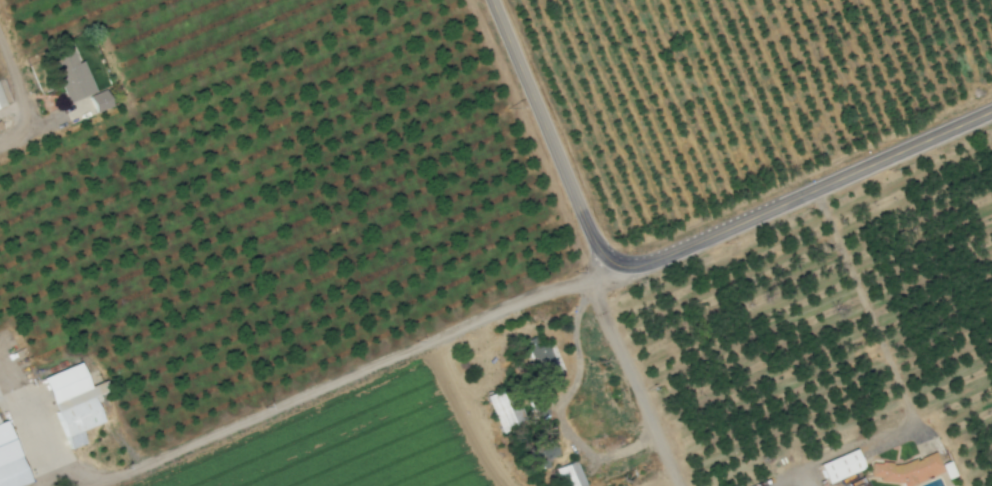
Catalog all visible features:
building: (68, 76)
building: (96, 101)
building: (0, 104)
road: (25, 113)
road: (553, 137)
road: (803, 194)
road: (867, 307)
building: (542, 363)
road: (350, 375)
road: (635, 383)
building: (69, 403)
building: (494, 412)
road: (477, 414)
road: (29, 433)
building: (538, 454)
building: (7, 466)
building: (837, 466)
building: (905, 470)
building: (566, 474)
road: (785, 483)

